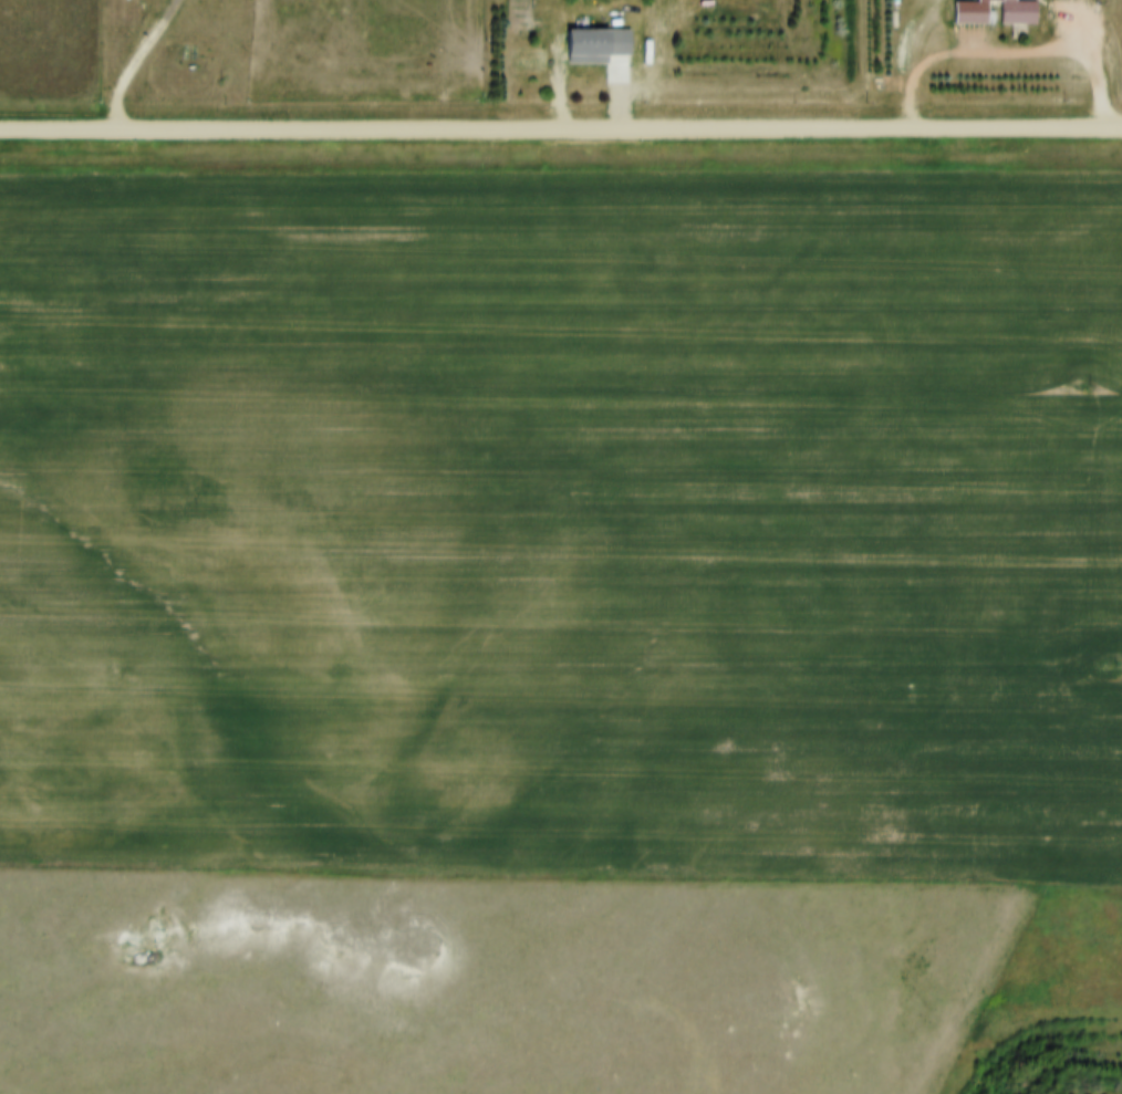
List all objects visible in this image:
building: (1012, 8)
building: (586, 35)
road: (1113, 59)
road: (591, 63)
road: (138, 64)
road: (560, 134)

